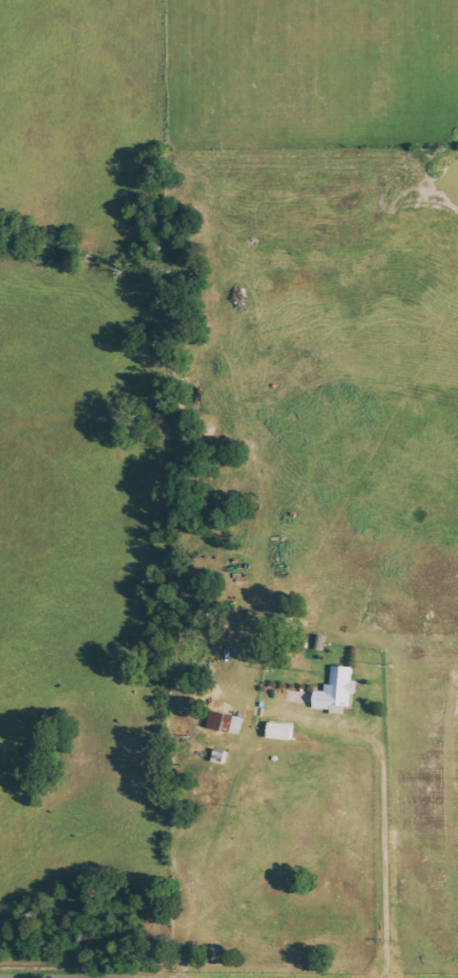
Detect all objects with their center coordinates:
building: (335, 691)
building: (224, 722)
building: (279, 731)
building: (218, 756)

